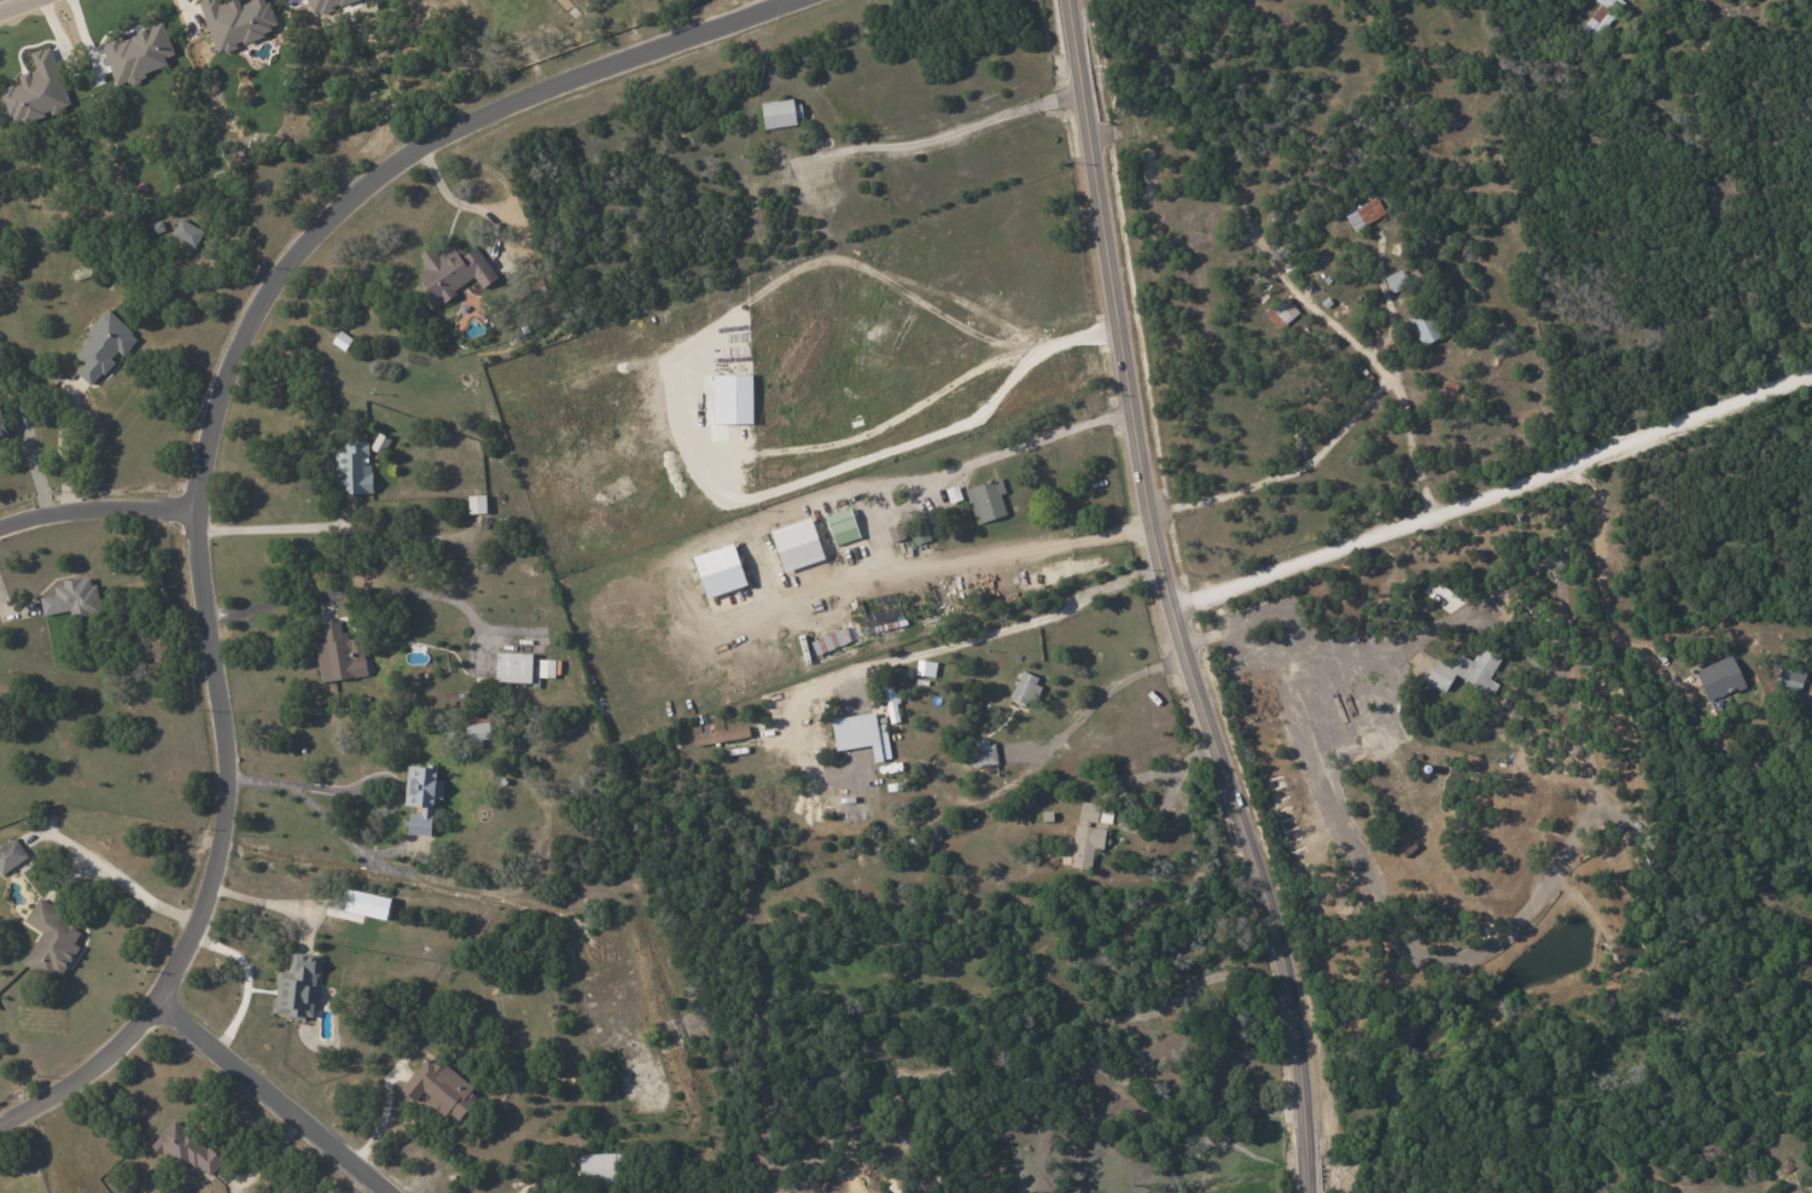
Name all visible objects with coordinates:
road: (14, 5)
building: (1600, 17)
building: (235, 21)
building: (34, 89)
building: (780, 112)
road: (943, 138)
road: (454, 199)
building: (1364, 214)
building: (186, 232)
building: (453, 270)
building: (1394, 280)
building: (1280, 312)
building: (1422, 326)
road: (1347, 337)
building: (101, 347)
building: (1446, 392)
road: (934, 398)
building: (732, 402)
building: (2, 430)
road: (206, 443)
road: (1410, 447)
road: (975, 461)
road: (34, 465)
building: (351, 467)
road: (1284, 475)
road: (1492, 493)
building: (985, 500)
building: (476, 504)
road: (99, 517)
road: (269, 526)
building: (840, 526)
building: (895, 533)
building: (917, 536)
building: (796, 543)
road: (984, 558)
road: (1600, 570)
building: (721, 578)
building: (71, 598)
road: (356, 601)
road: (1170, 601)
building: (880, 611)
road: (987, 645)
building: (339, 653)
road: (1323, 657)
building: (512, 667)
building: (542, 668)
building: (1466, 670)
building: (1718, 676)
building: (1789, 679)
building: (1024, 688)
building: (888, 694)
road: (1103, 696)
building: (476, 728)
building: (853, 731)
building: (983, 753)
road: (1305, 769)
road: (287, 782)
building: (419, 798)
road: (1144, 820)
building: (1088, 832)
building: (11, 855)
road: (115, 880)
road: (264, 910)
building: (51, 939)
road: (246, 980)
building: (307, 1001)
road: (1161, 1001)
building: (438, 1088)
road: (270, 1095)
building: (185, 1148)
building: (596, 1168)

